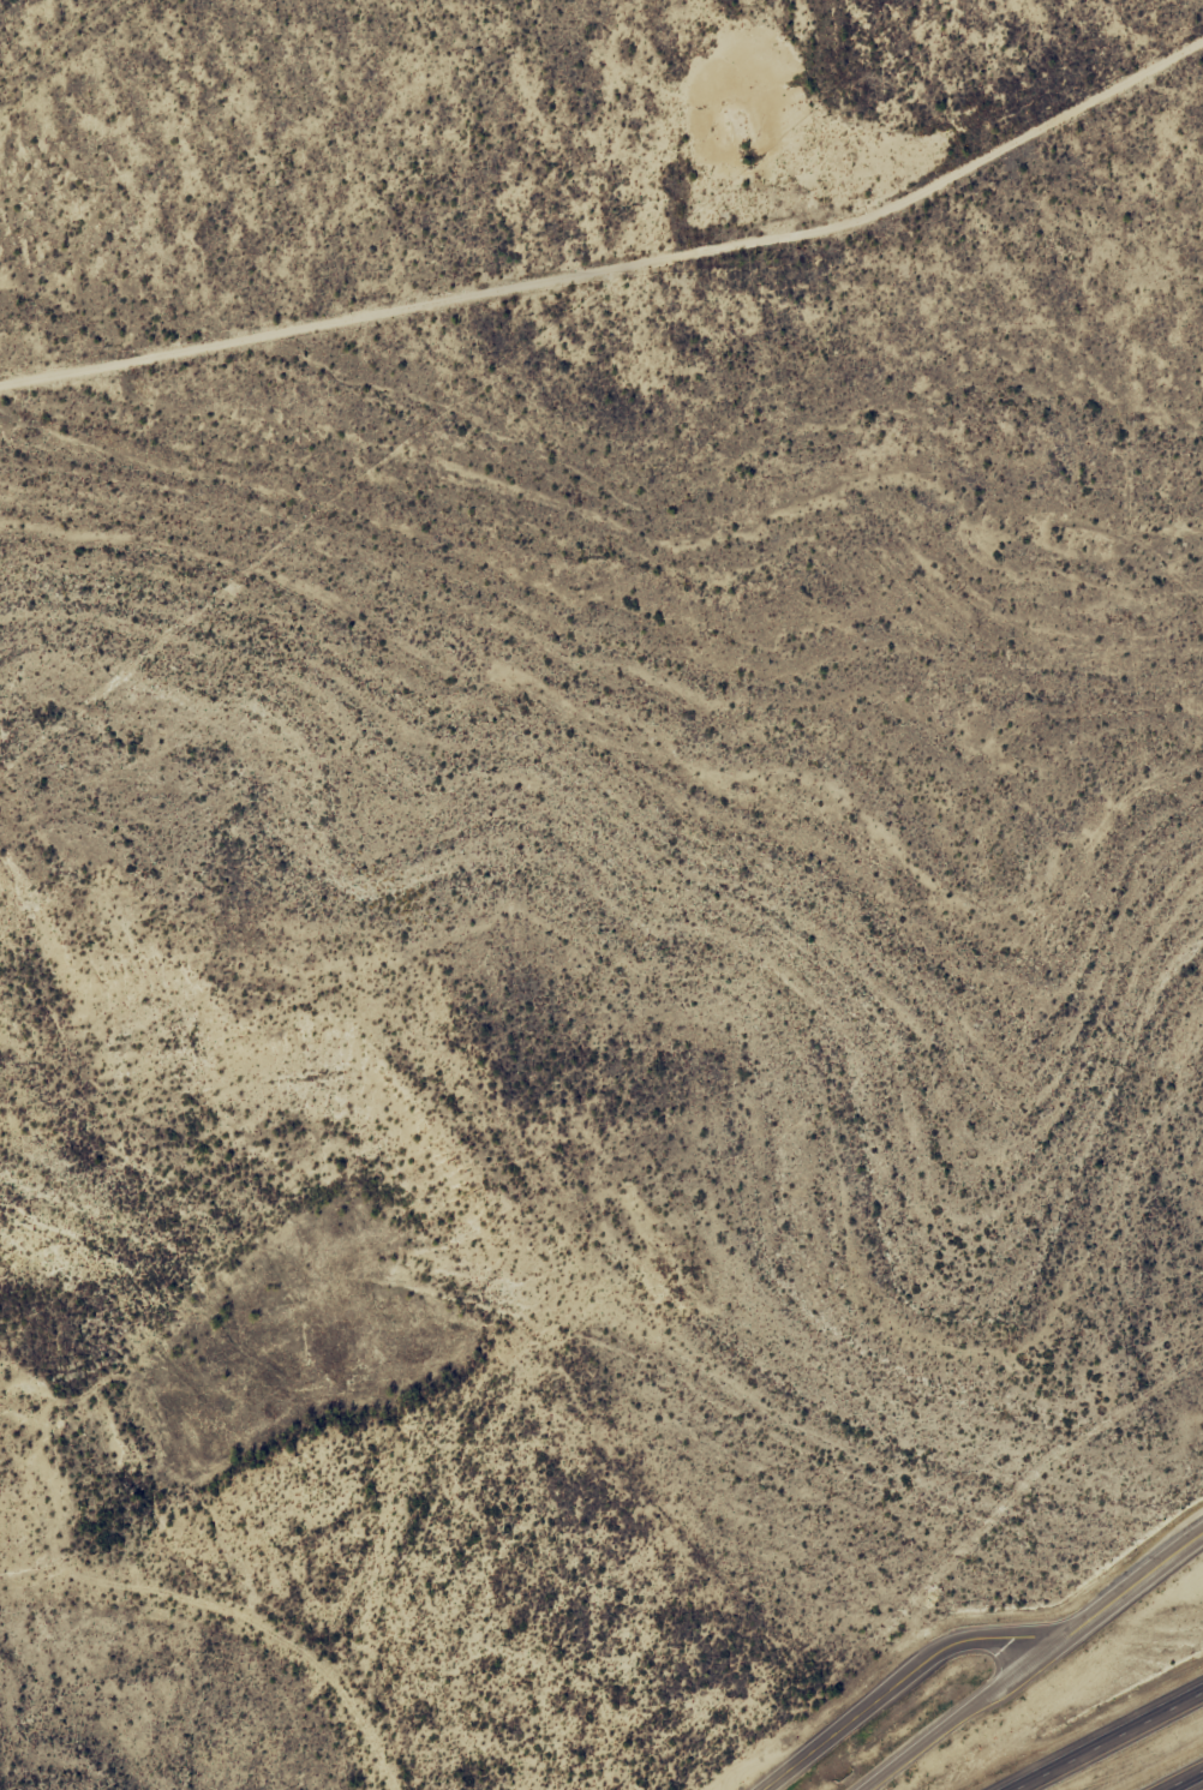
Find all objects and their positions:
road: (1129, 1590)
road: (897, 1682)
road: (956, 1718)
road: (1106, 1742)
road: (1189, 1783)

